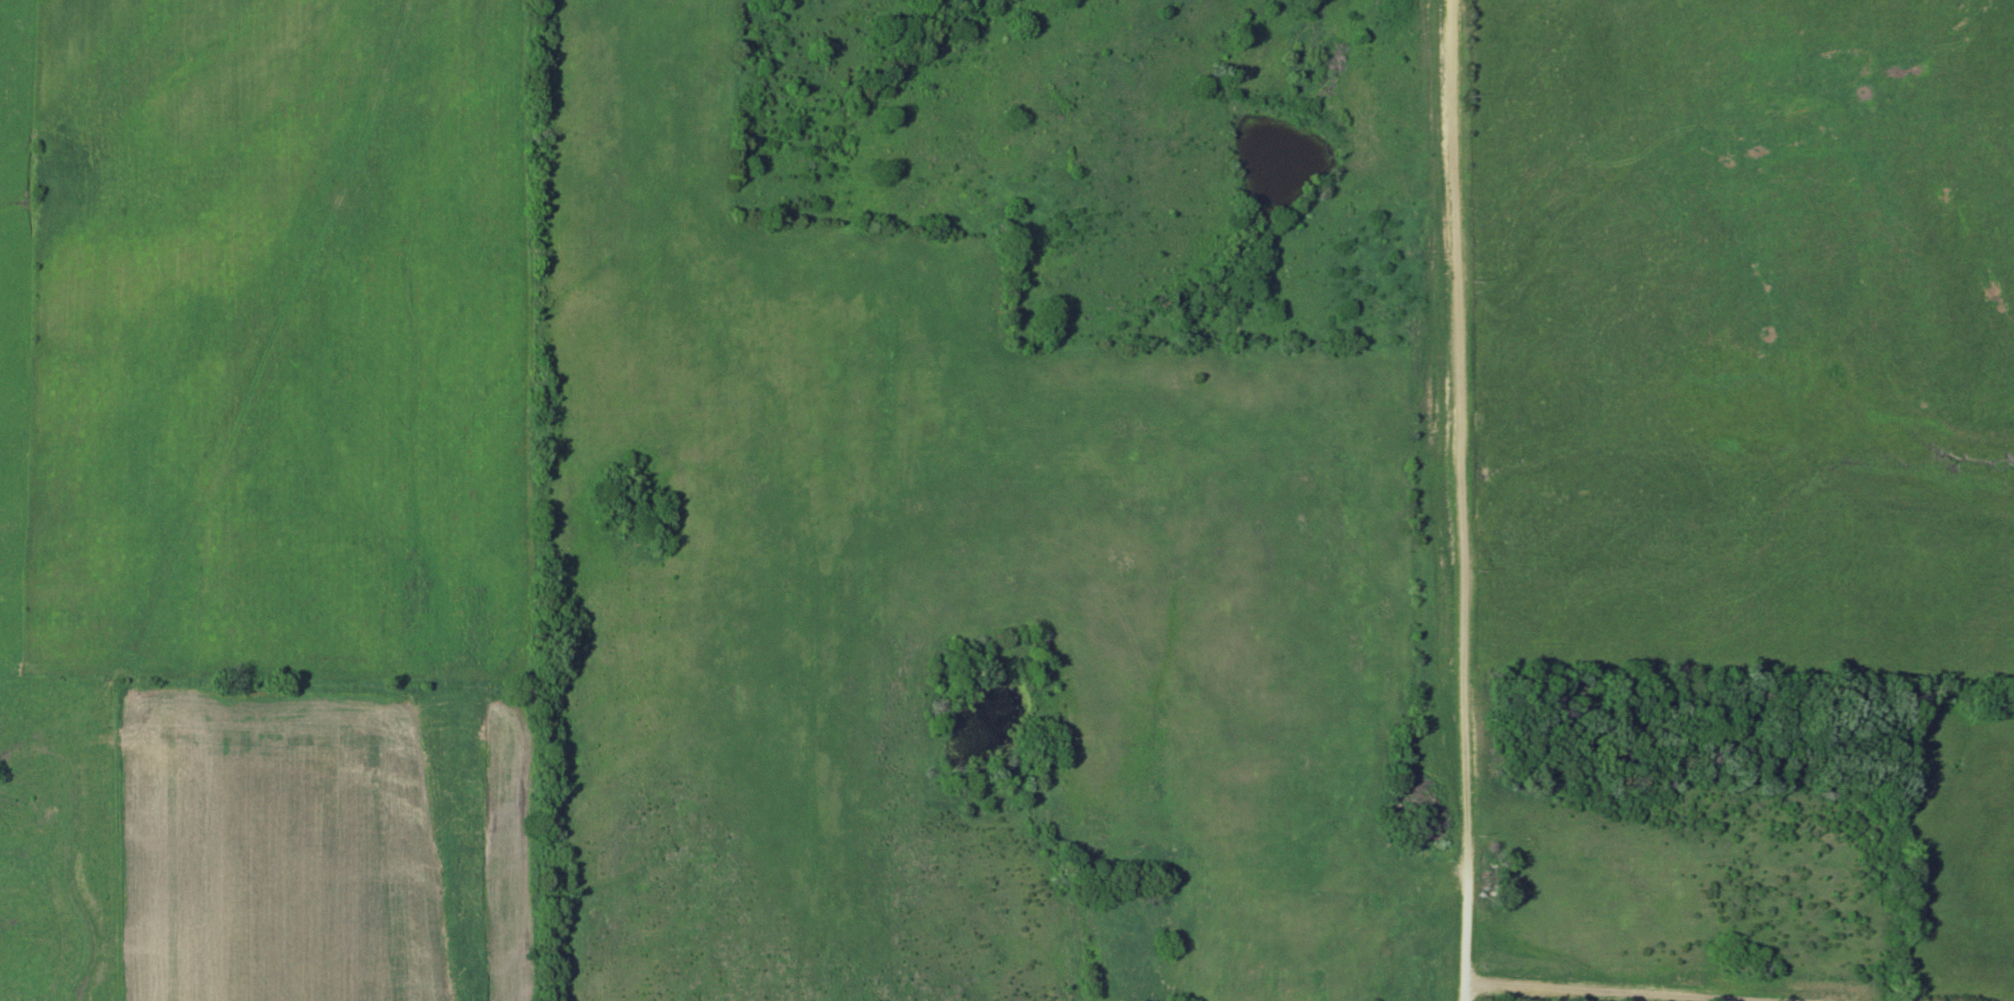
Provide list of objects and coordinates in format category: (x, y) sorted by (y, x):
road: (1462, 500)
road: (1595, 994)

